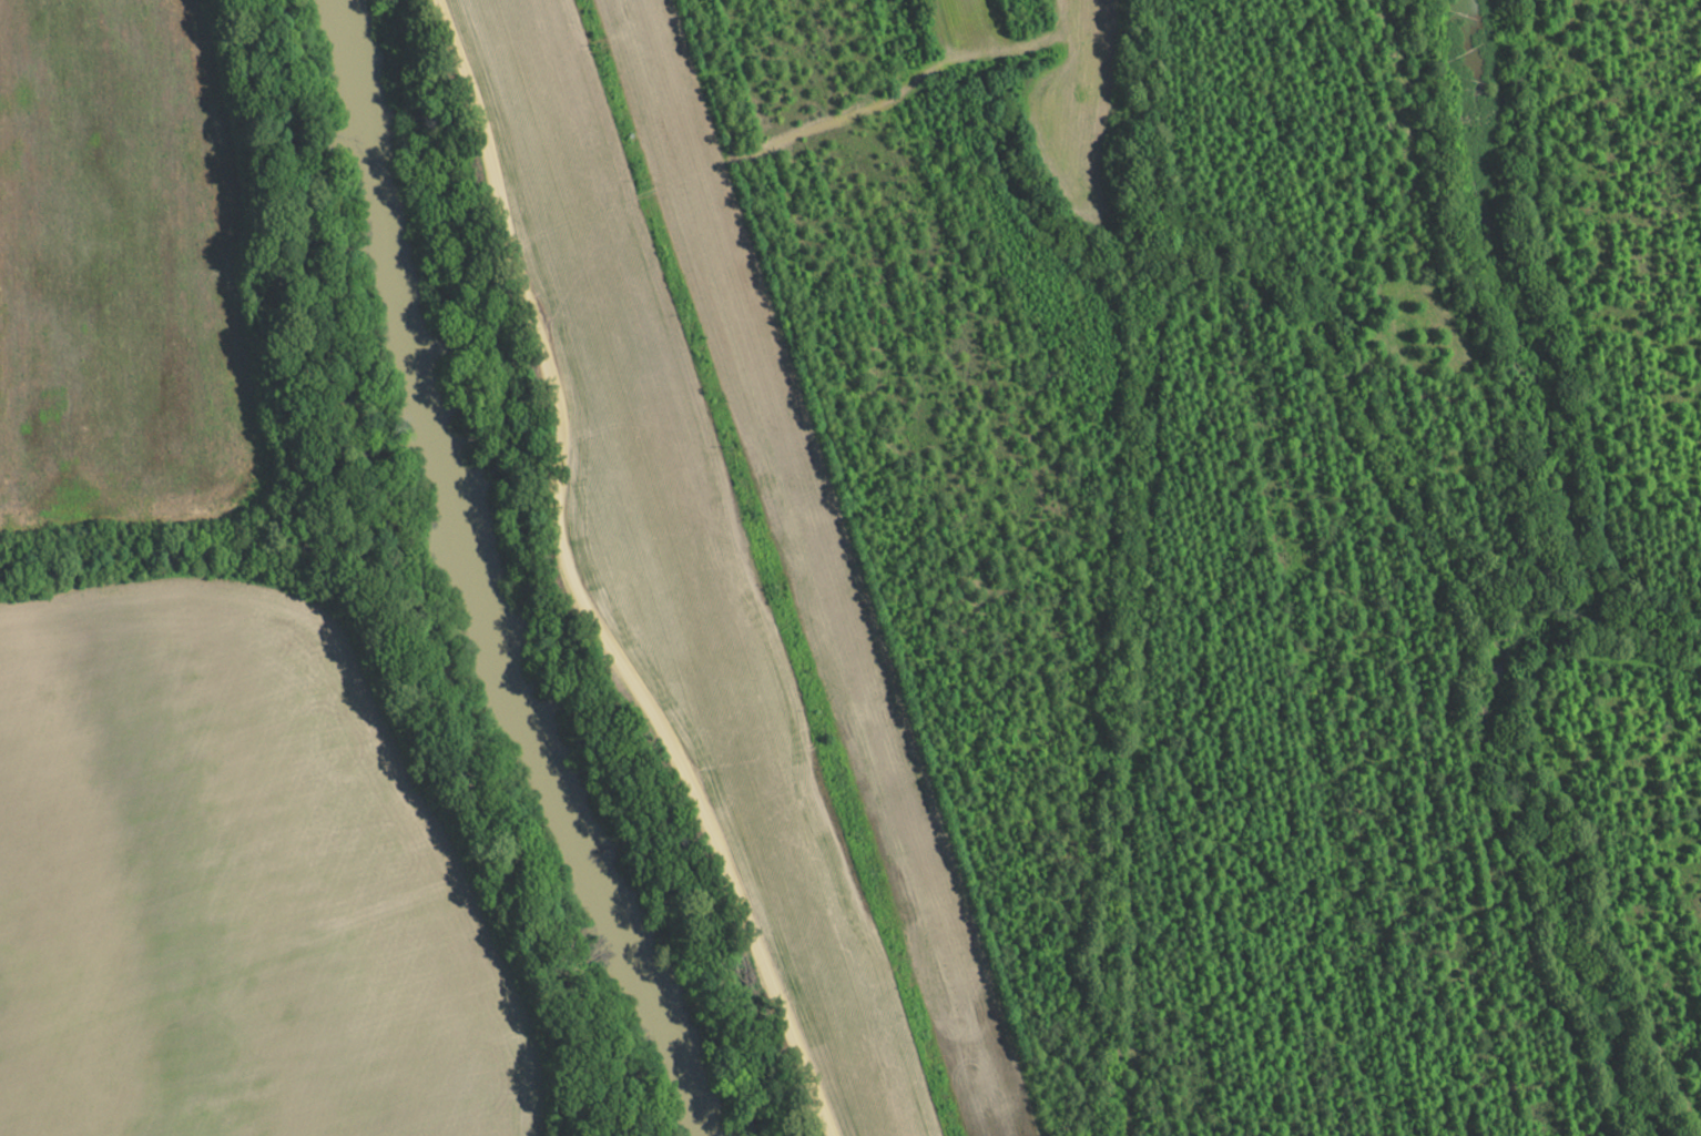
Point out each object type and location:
road: (731, 160)
river: (475, 582)
road: (569, 587)

